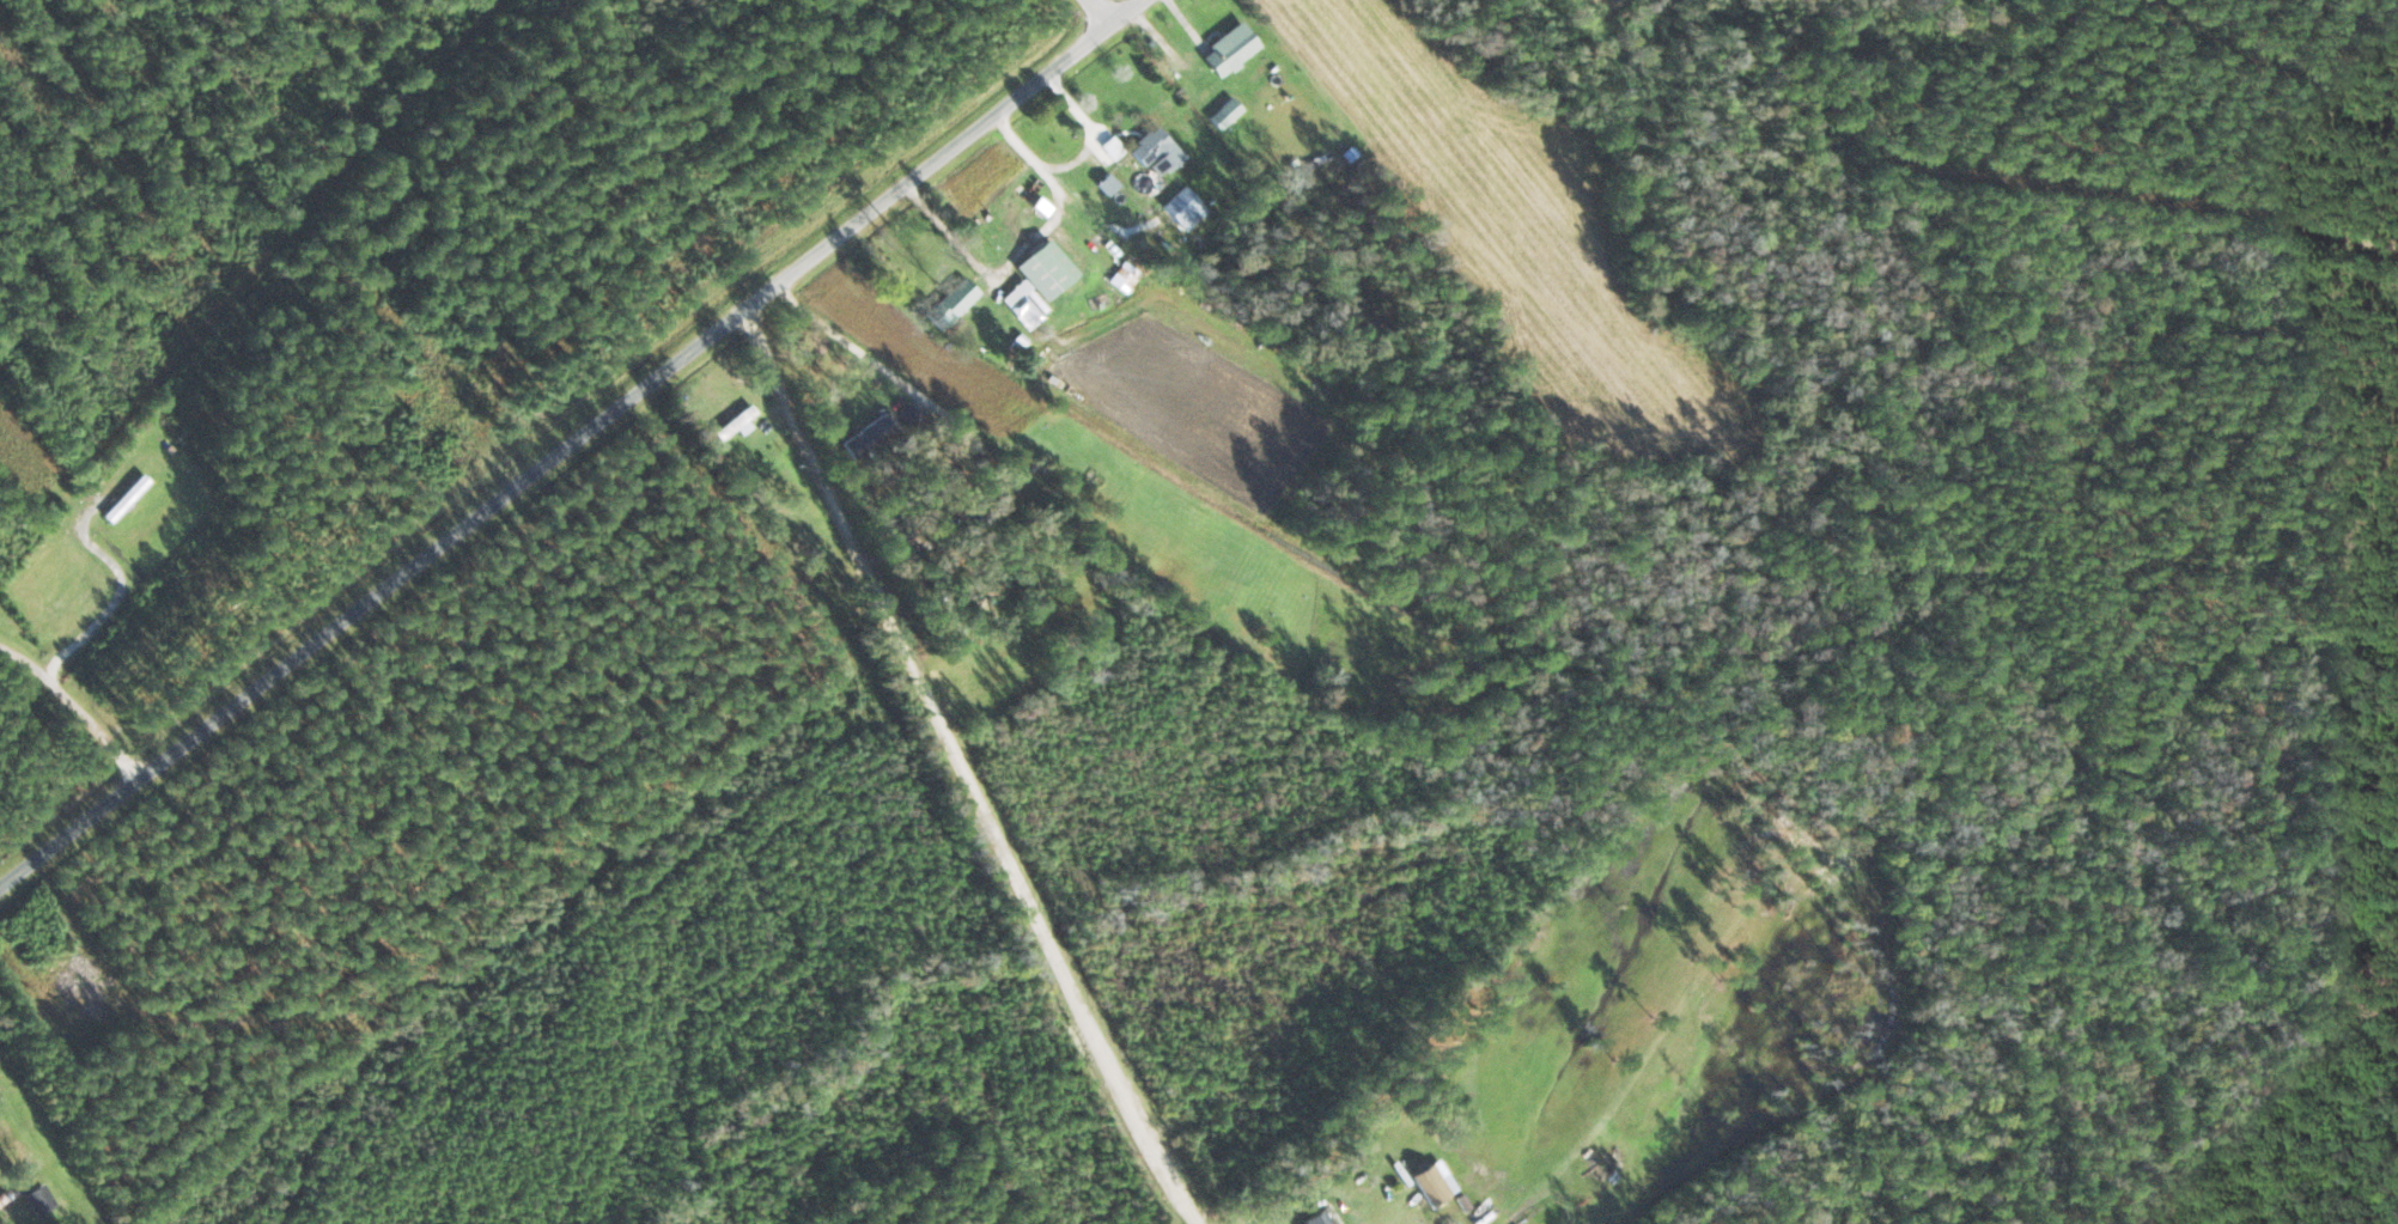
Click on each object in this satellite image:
road: (1101, 11)
road: (1126, 11)
building: (1230, 50)
building: (1227, 114)
building: (1157, 150)
road: (2175, 190)
building: (1181, 211)
building: (1053, 264)
building: (1126, 278)
building: (952, 304)
building: (1023, 305)
building: (740, 421)
building: (871, 437)
road: (580, 482)
building: (897, 528)
road: (883, 586)
road: (1109, 1017)
building: (1435, 1182)
building: (8, 1196)
building: (38, 1199)
building: (1316, 1218)

